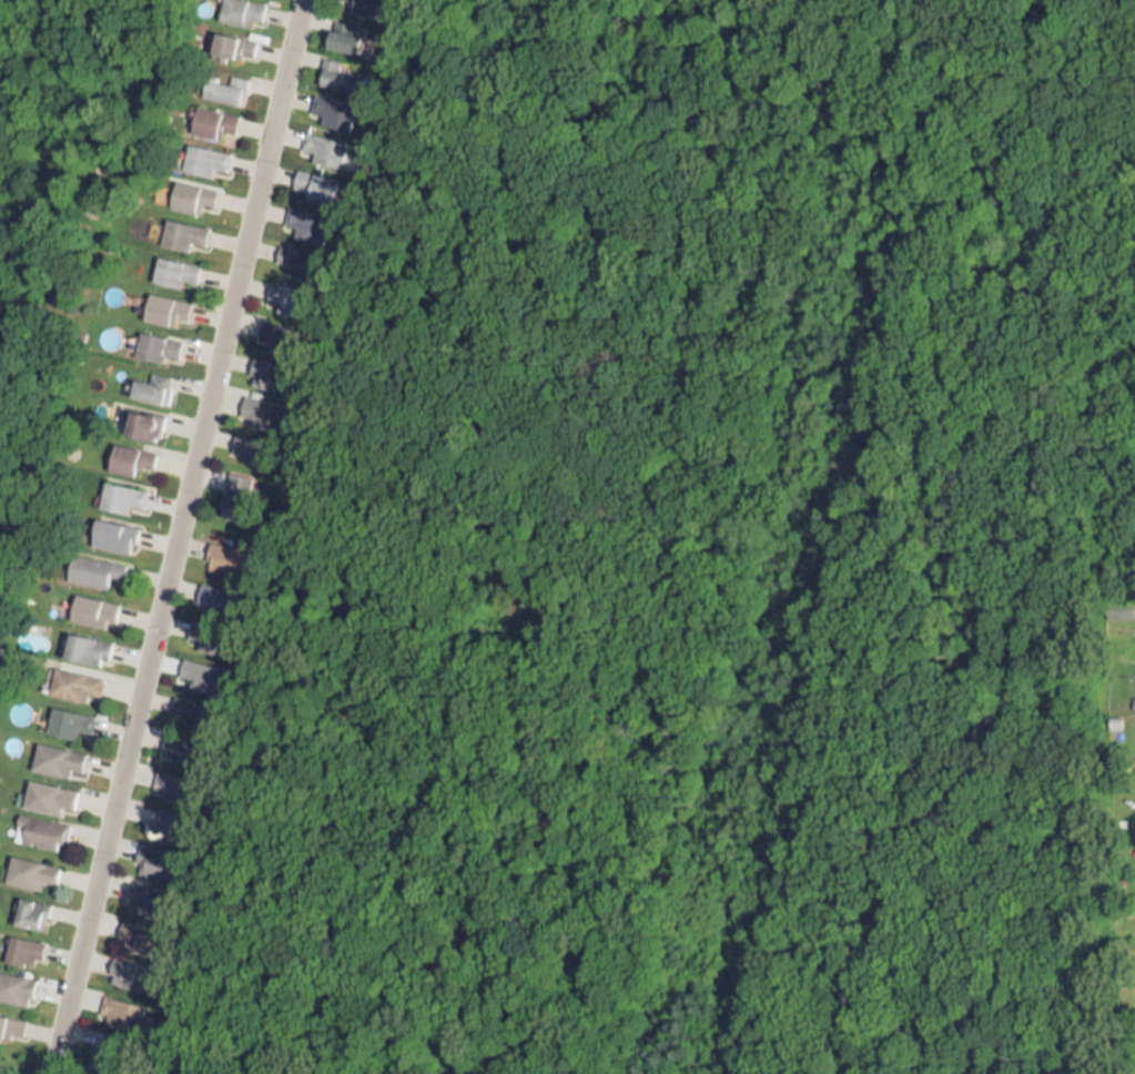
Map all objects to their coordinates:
building: (362, 3)
building: (240, 9)
building: (342, 30)
building: (231, 40)
building: (335, 69)
building: (223, 82)
building: (331, 104)
building: (210, 115)
building: (321, 142)
building: (202, 153)
building: (312, 179)
building: (191, 190)
building: (304, 216)
building: (182, 229)
building: (294, 253)
building: (174, 265)
building: (284, 292)
building: (163, 302)
building: (81, 313)
building: (272, 327)
building: (156, 341)
building: (265, 369)
building: (148, 382)
building: (259, 404)
building: (141, 419)
building: (245, 440)
building: (129, 453)
building: (235, 486)
building: (118, 492)
building: (109, 528)
road: (175, 537)
building: (224, 551)
building: (92, 564)
building: (213, 590)
building: (91, 602)
building: (206, 630)
building: (88, 641)
building: (197, 669)
building: (72, 678)
building: (69, 716)
building: (183, 725)
building: (57, 754)
building: (169, 779)
building: (45, 791)
building: (162, 819)
building: (38, 825)
building: (153, 857)
building: (29, 867)
building: (142, 894)
building: (30, 905)
building: (133, 931)
building: (22, 944)
building: (128, 967)
building: (14, 982)
building: (119, 1003)
building: (10, 1022)

